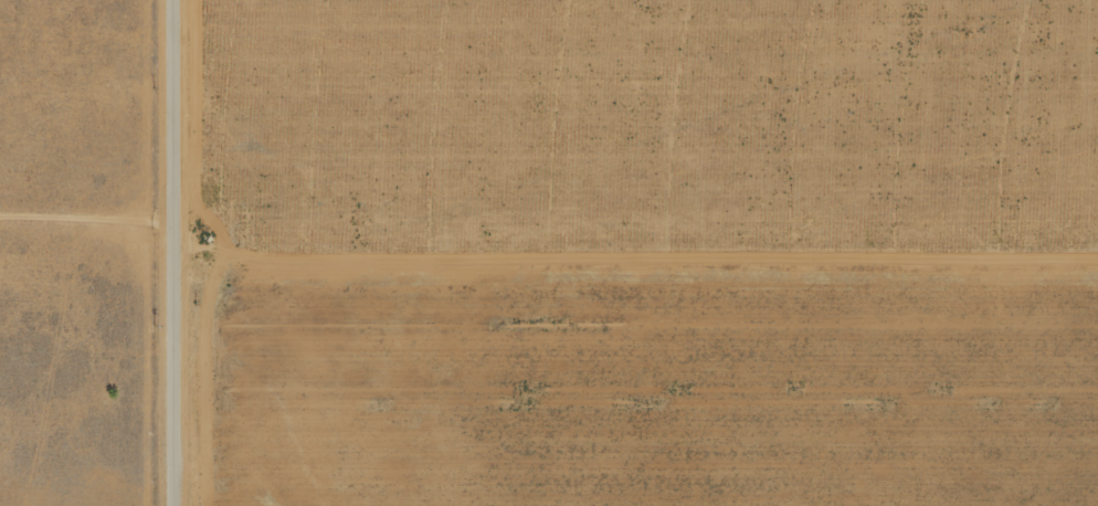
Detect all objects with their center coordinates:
road: (162, 253)

